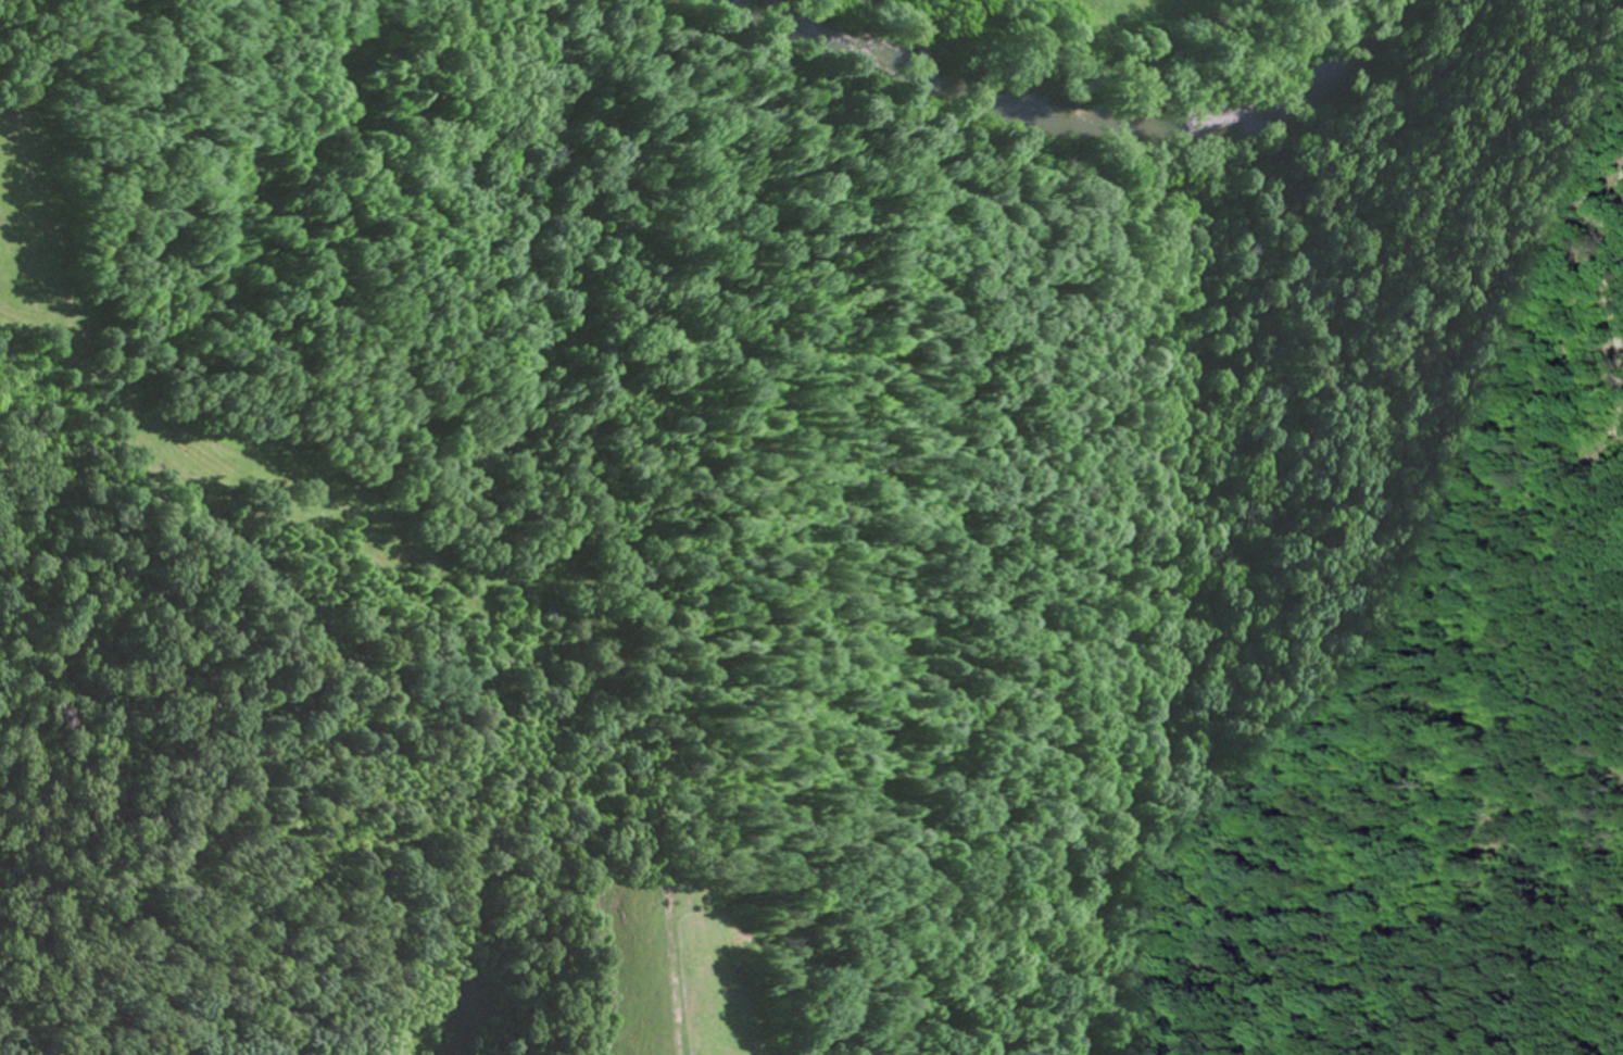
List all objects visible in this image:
river: (1050, 128)

